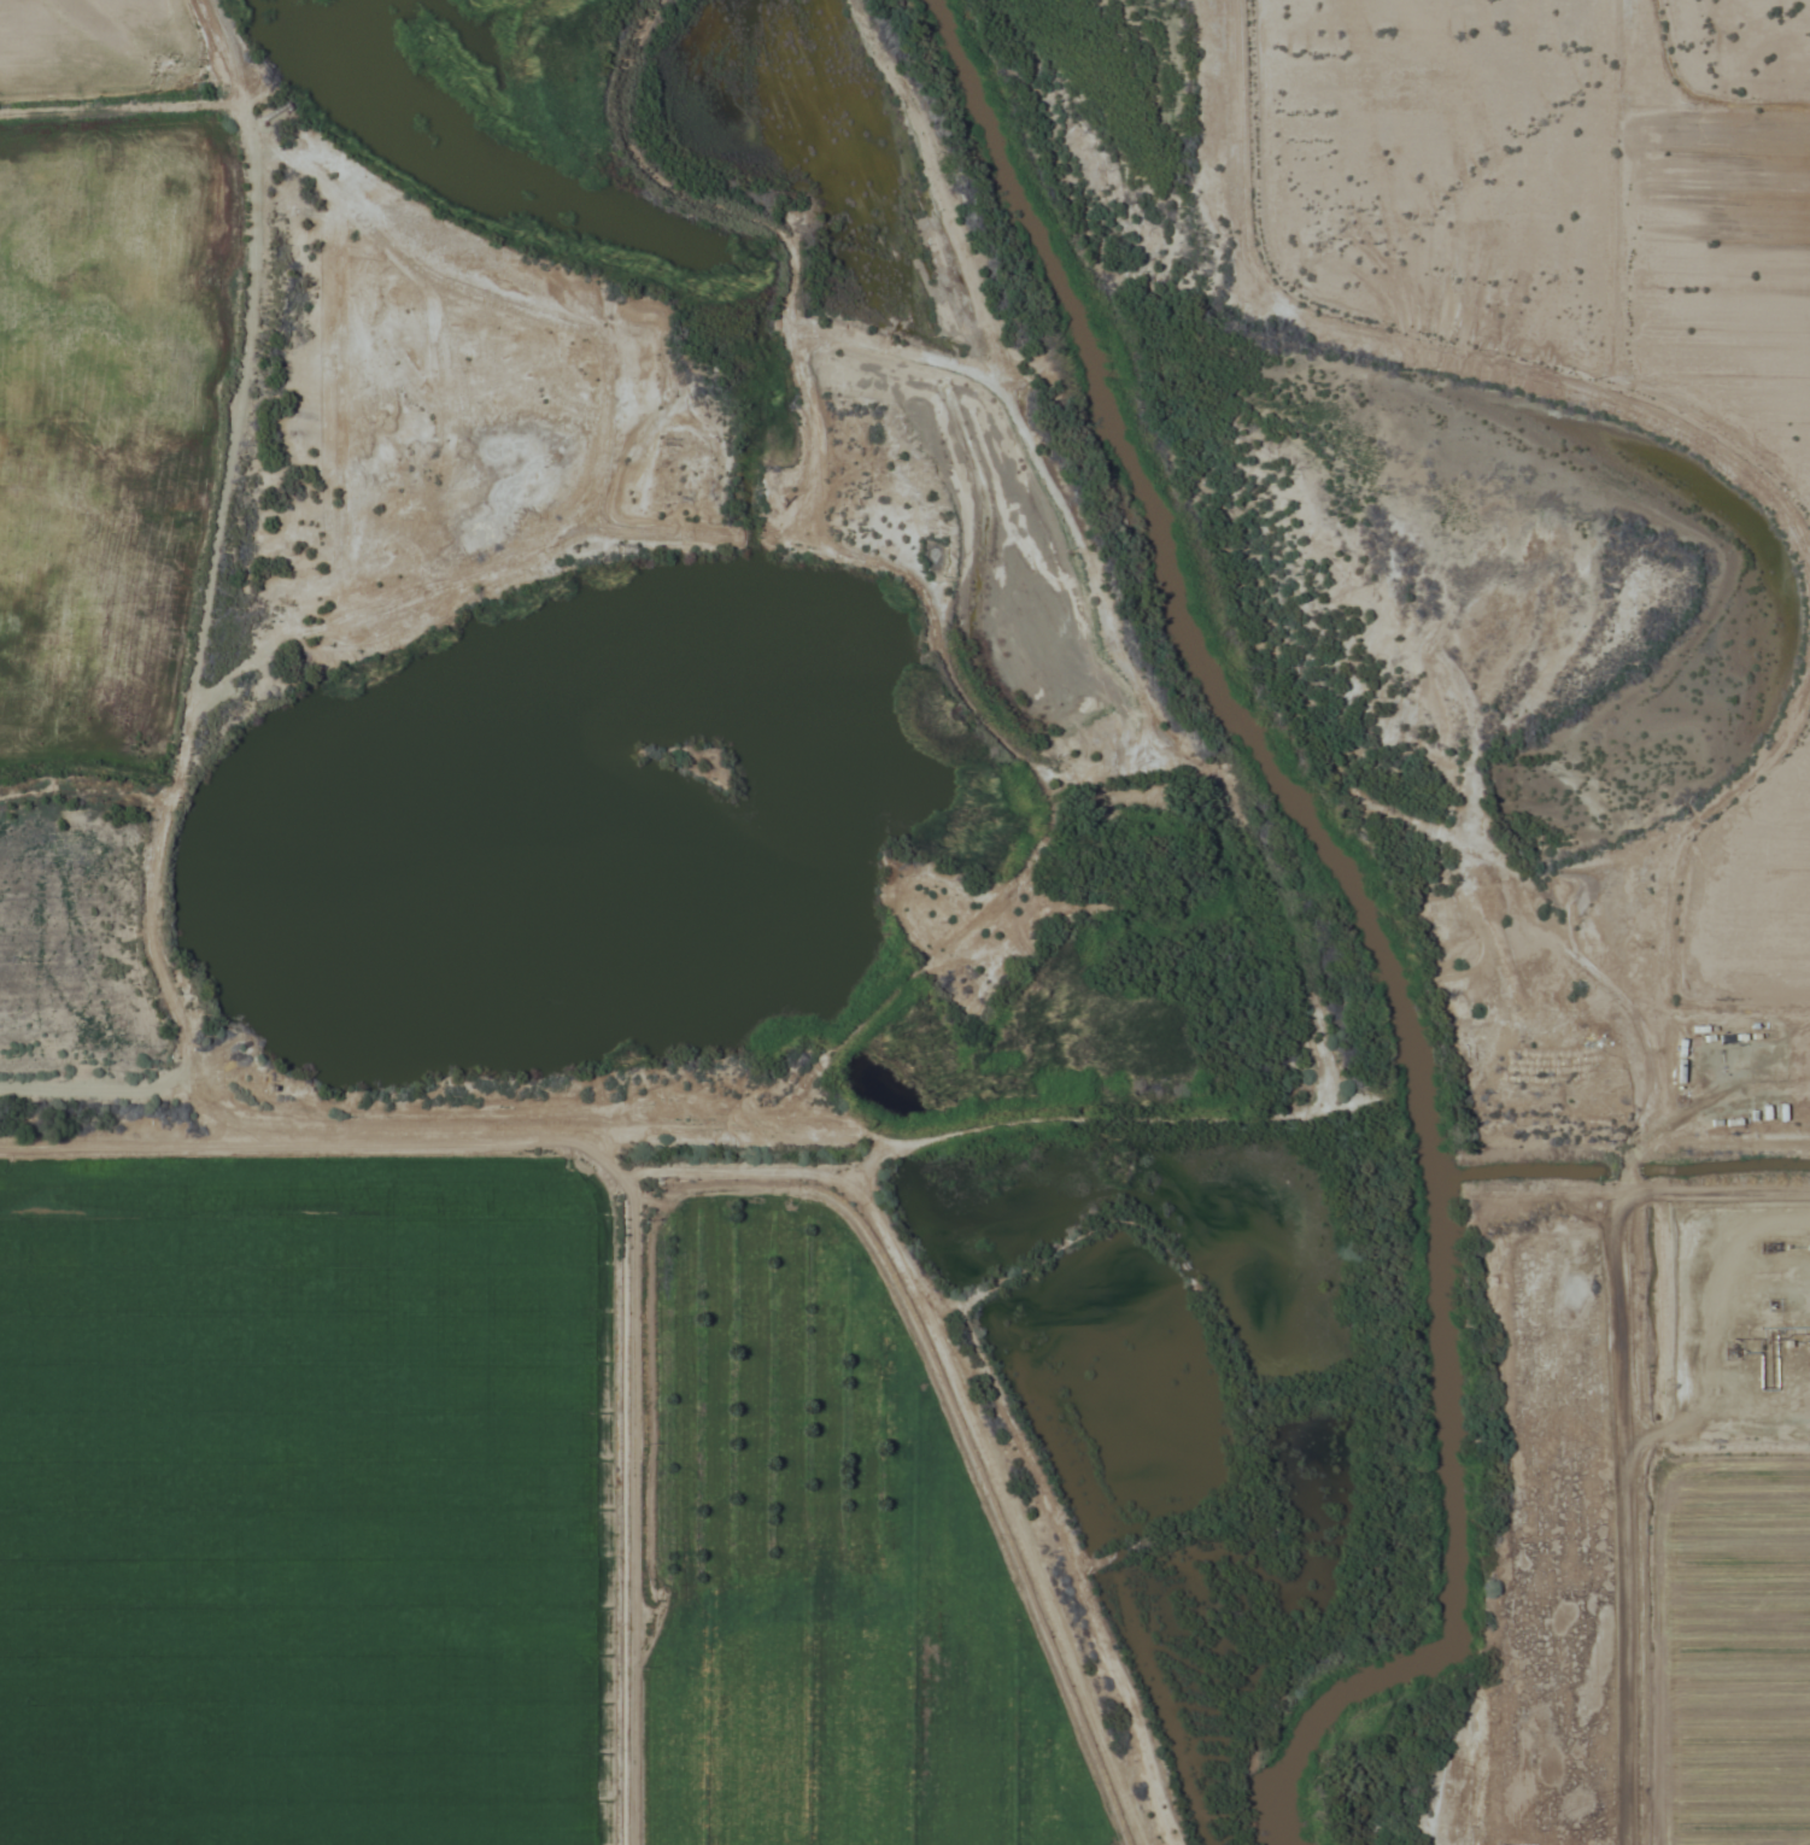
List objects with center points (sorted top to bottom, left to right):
road: (1398, 347)
parking lot: (215, 691)
road: (1636, 916)
river: (1375, 920)
road: (81, 1143)
road: (1716, 1193)
road: (1624, 1518)

